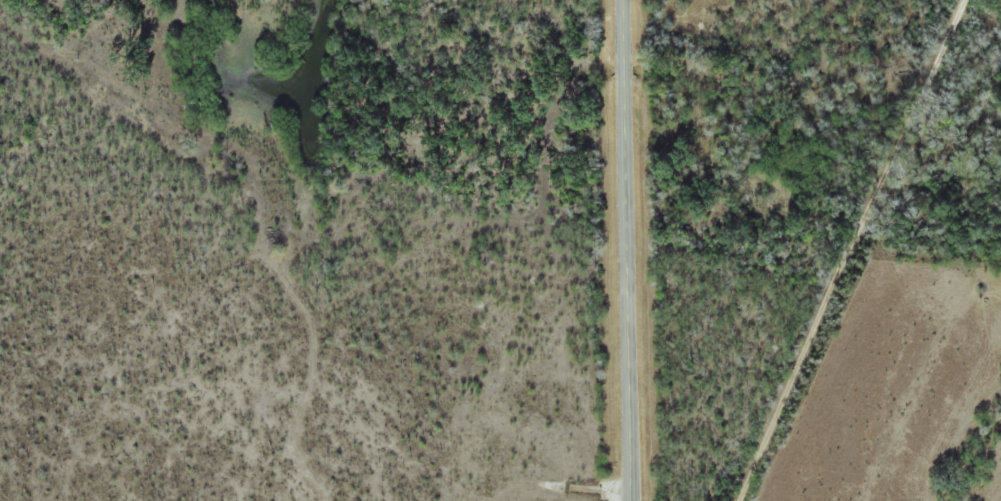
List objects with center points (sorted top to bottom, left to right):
road: (628, 250)
road: (853, 250)

